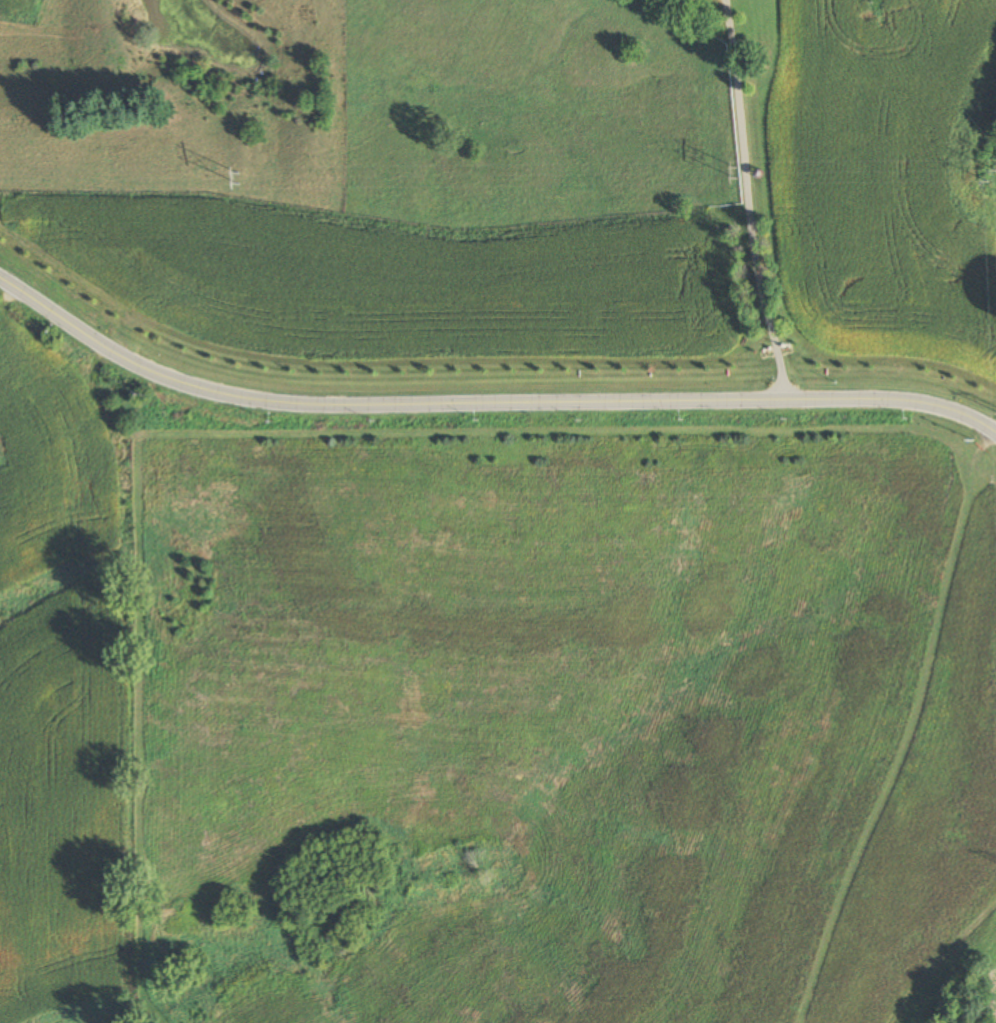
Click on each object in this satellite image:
crop: (18, 8)
crop: (887, 171)
power tower: (734, 174)
power tower: (242, 178)
road: (749, 202)
crop: (390, 280)
road: (896, 401)
road: (379, 404)
crop: (63, 689)

